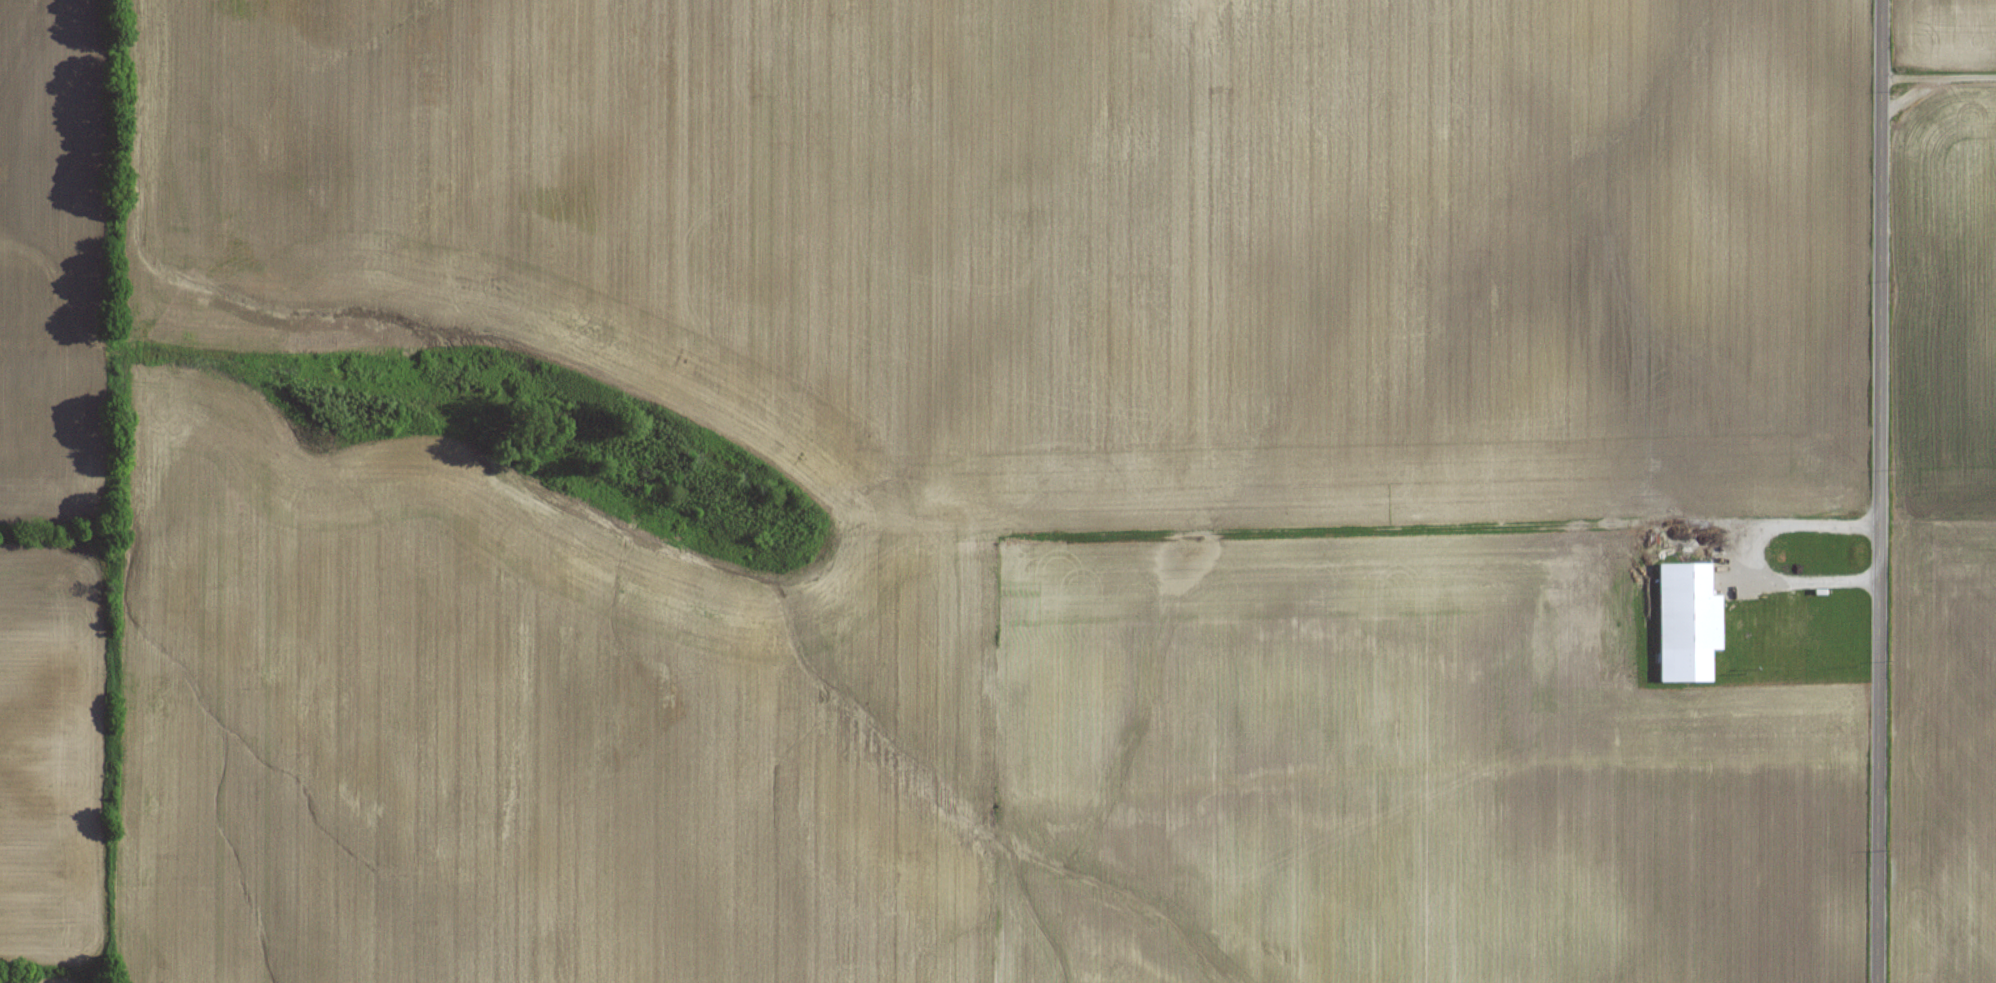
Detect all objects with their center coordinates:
crop: (1947, 31)
road: (1939, 74)
road: (1909, 93)
road: (1880, 491)
crop: (1948, 545)
road: (1750, 553)
building: (1688, 623)

